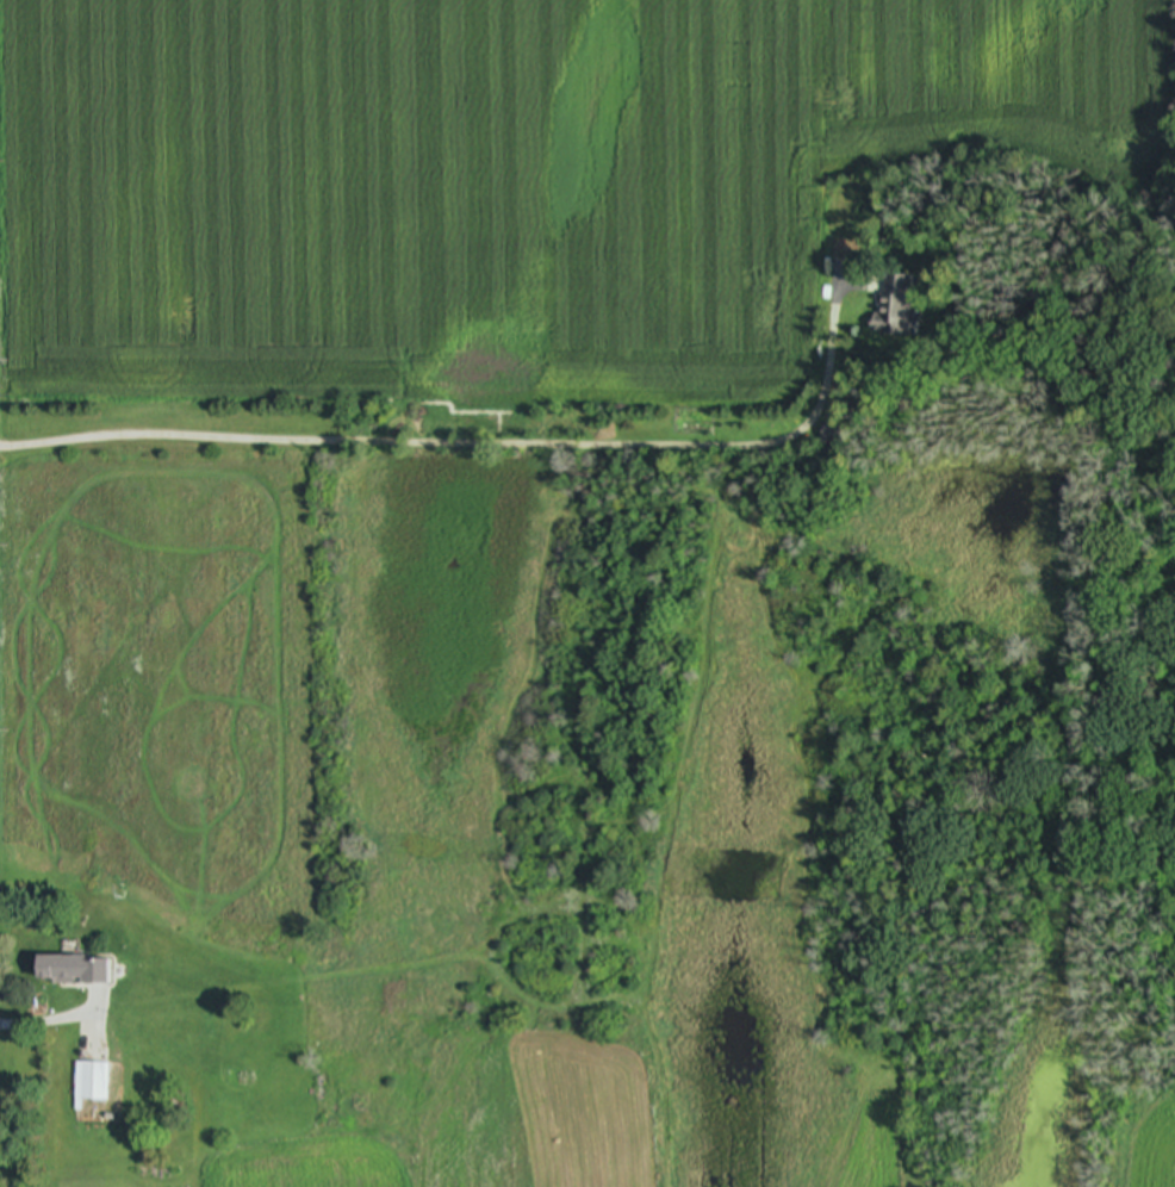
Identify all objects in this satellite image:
building: (894, 307)
building: (833, 435)
road: (474, 441)
building: (72, 972)
road: (57, 1020)
building: (94, 1083)

